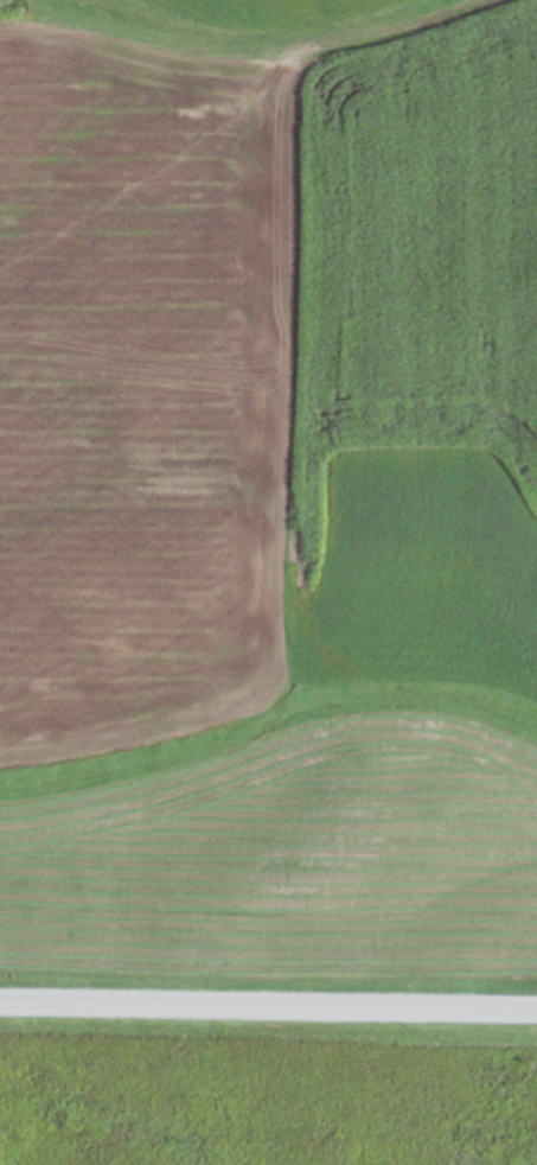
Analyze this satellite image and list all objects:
road: (268, 997)

